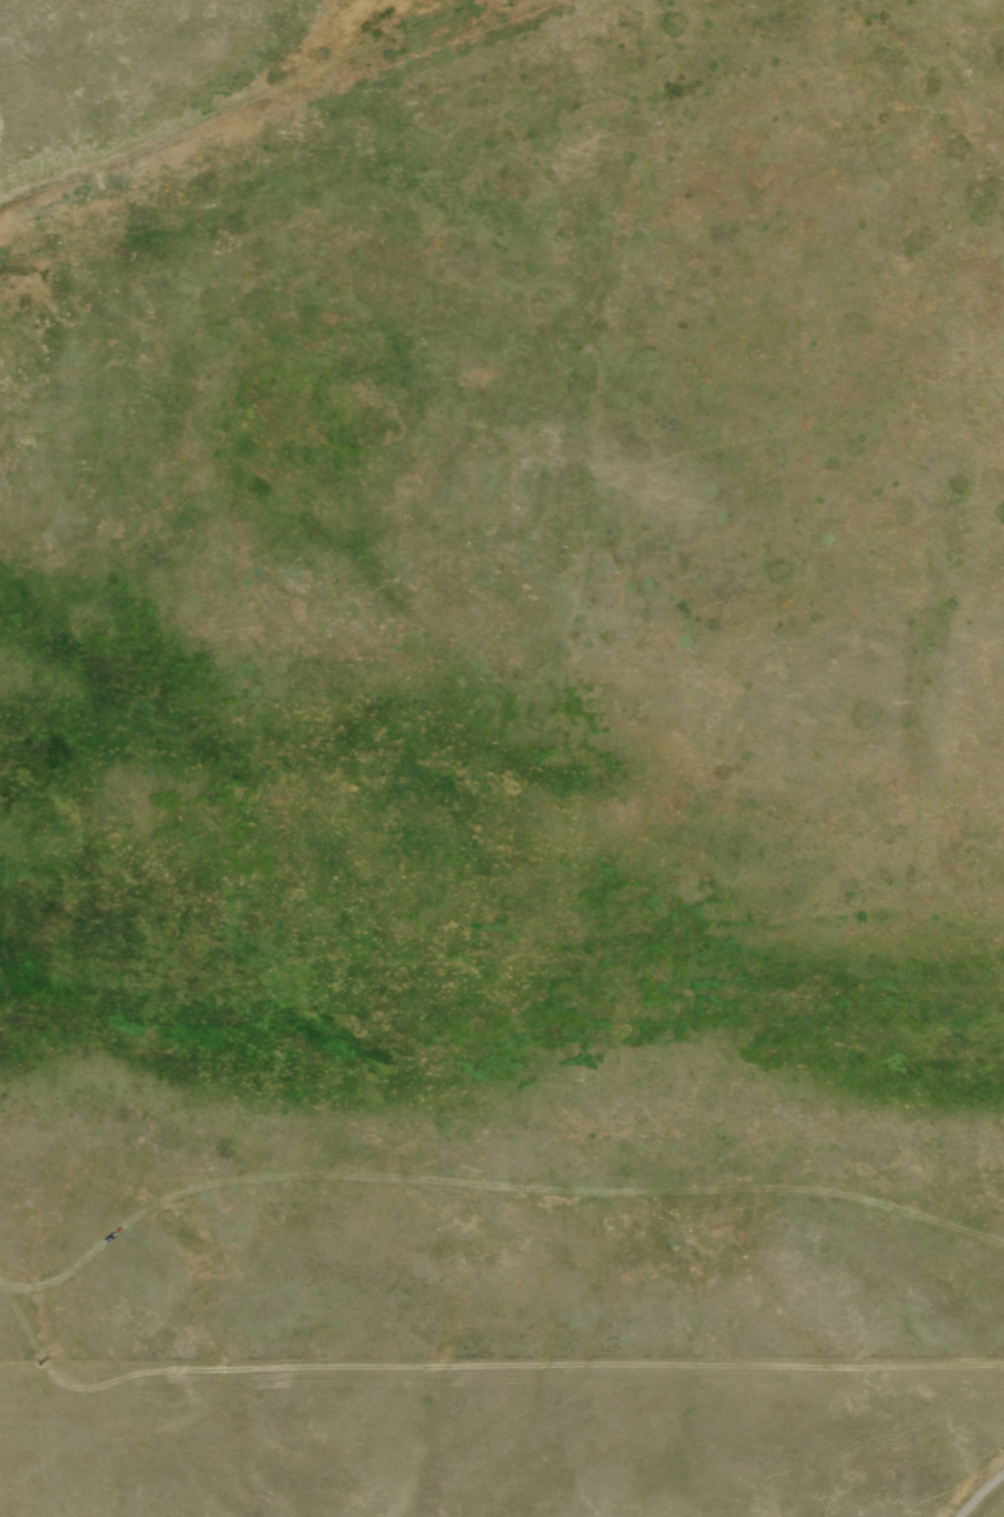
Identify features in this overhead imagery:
road: (979, 1493)

